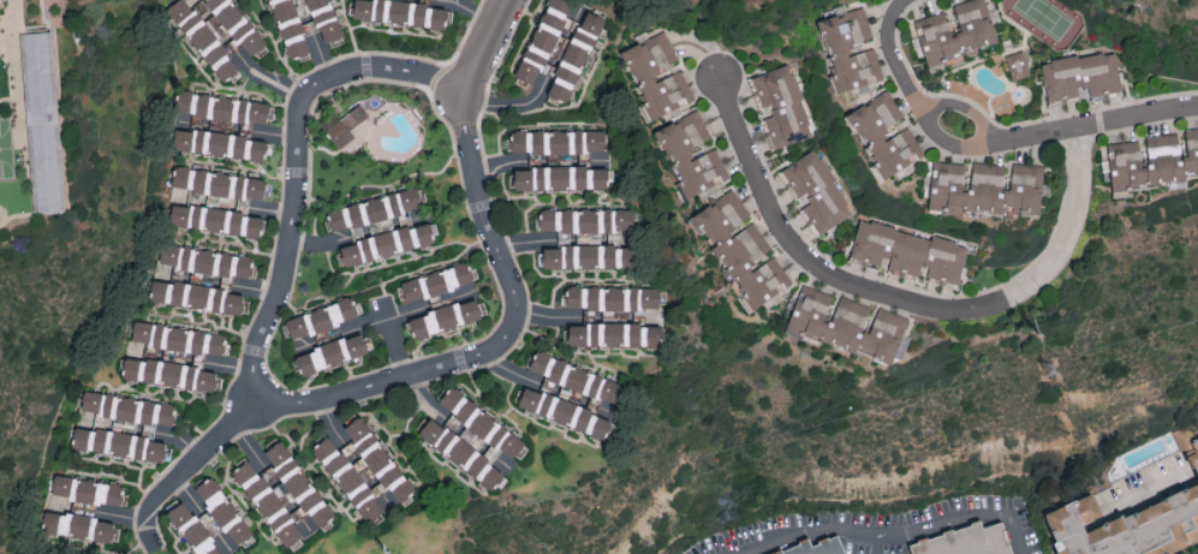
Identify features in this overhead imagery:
building: (401, 11)
park: (1044, 17)
building: (304, 22)
building: (234, 29)
building: (955, 31)
building: (203, 38)
building: (543, 38)
road: (488, 50)
building: (577, 53)
road: (322, 59)
building: (1018, 64)
building: (657, 72)
building: (1081, 76)
road: (272, 81)
road: (511, 103)
building: (782, 105)
building: (222, 107)
building: (43, 124)
building: (344, 124)
building: (871, 132)
road: (276, 133)
building: (556, 139)
building: (221, 143)
road: (991, 145)
building: (692, 153)
building: (600, 157)
building: (1152, 160)
building: (7, 163)
road: (299, 174)
building: (560, 177)
building: (217, 181)
building: (987, 186)
building: (818, 190)
road: (273, 209)
building: (371, 209)
building: (217, 219)
building: (586, 219)
road: (321, 240)
road: (520, 240)
building: (388, 243)
building: (743, 249)
building: (910, 251)
building: (589, 255)
building: (204, 260)
building: (436, 281)
road: (258, 288)
building: (199, 296)
building: (612, 297)
road: (907, 303)
road: (548, 315)
building: (321, 317)
building: (445, 317)
building: (846, 322)
building: (615, 333)
building: (177, 336)
power tower: (1042, 336)
road: (395, 347)
road: (501, 350)
building: (330, 352)
road: (232, 364)
power tower: (1053, 371)
building: (171, 373)
building: (576, 376)
building: (126, 407)
building: (565, 411)
building: (465, 433)
building: (442, 437)
road: (184, 440)
building: (121, 443)
building: (1194, 451)
building: (379, 458)
road: (185, 475)
building: (347, 478)
building: (87, 489)
building: (285, 495)
building: (211, 522)
building: (81, 526)
building: (1127, 526)
road: (896, 531)
building: (966, 540)
road: (877, 544)
building: (828, 549)
power tower: (393, 553)

